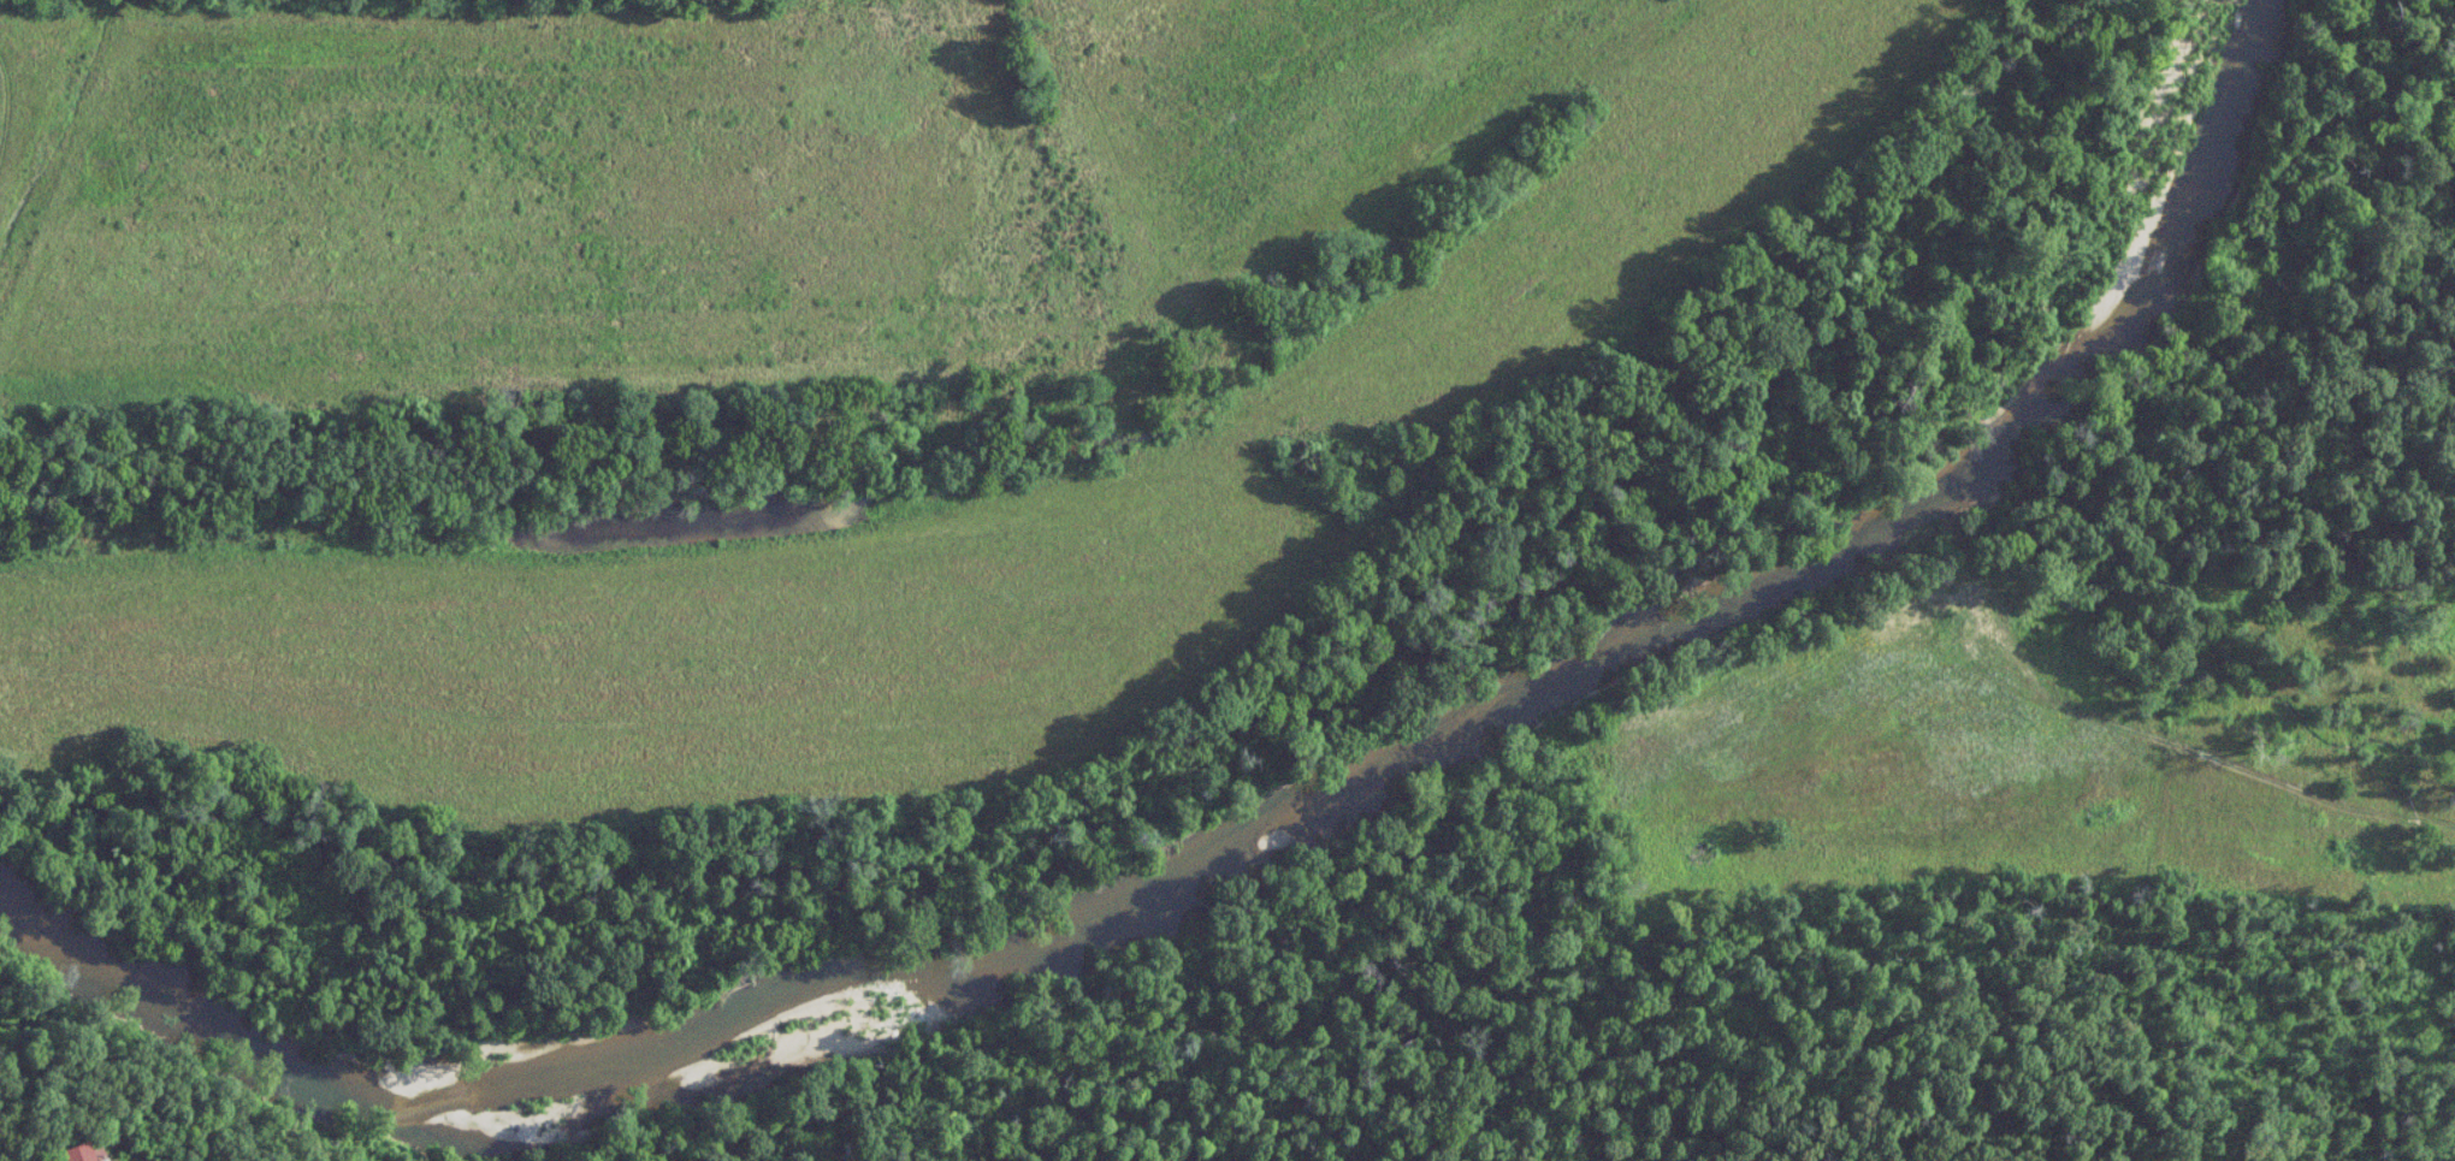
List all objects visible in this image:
river: (1271, 842)
building: (76, 1153)
building: (102, 1160)

